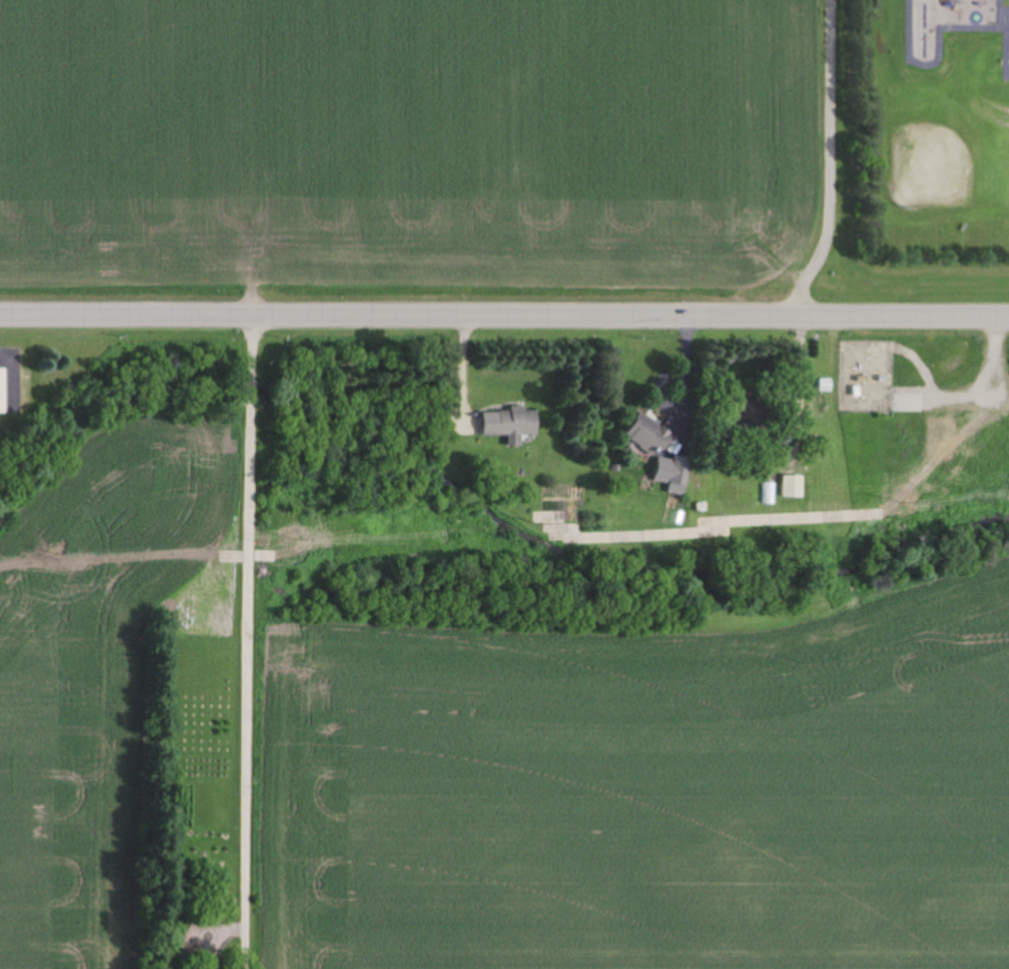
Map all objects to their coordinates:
road: (407, 311)
road: (912, 311)
building: (3, 390)
building: (513, 423)
building: (661, 450)
building: (769, 494)
road: (255, 639)
crop: (74, 710)
crop: (641, 791)

